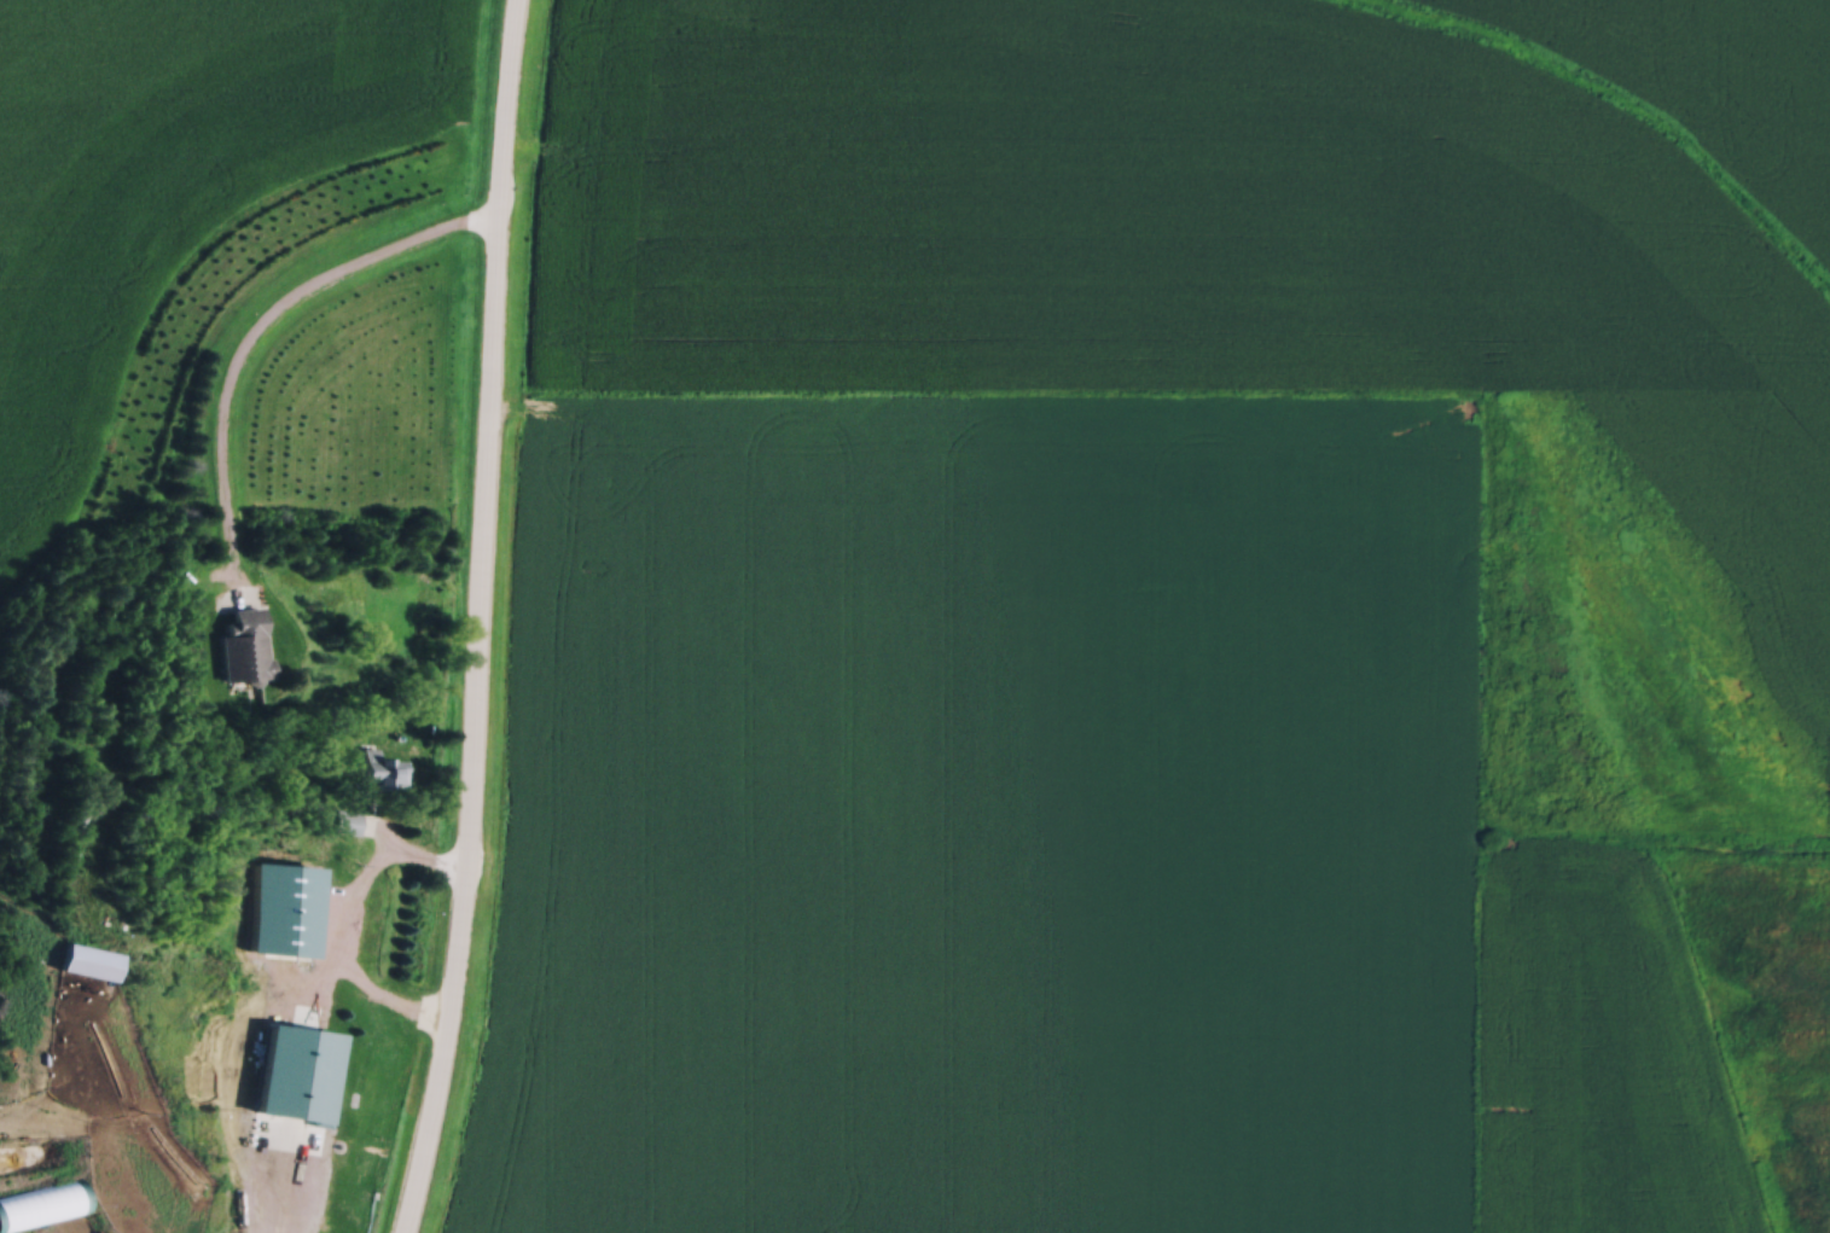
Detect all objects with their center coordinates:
road: (260, 337)
road: (478, 618)
building: (245, 642)
building: (388, 770)
building: (348, 818)
road: (374, 872)
building: (298, 919)
building: (86, 956)
road: (266, 1018)
building: (280, 1099)
building: (39, 1200)

